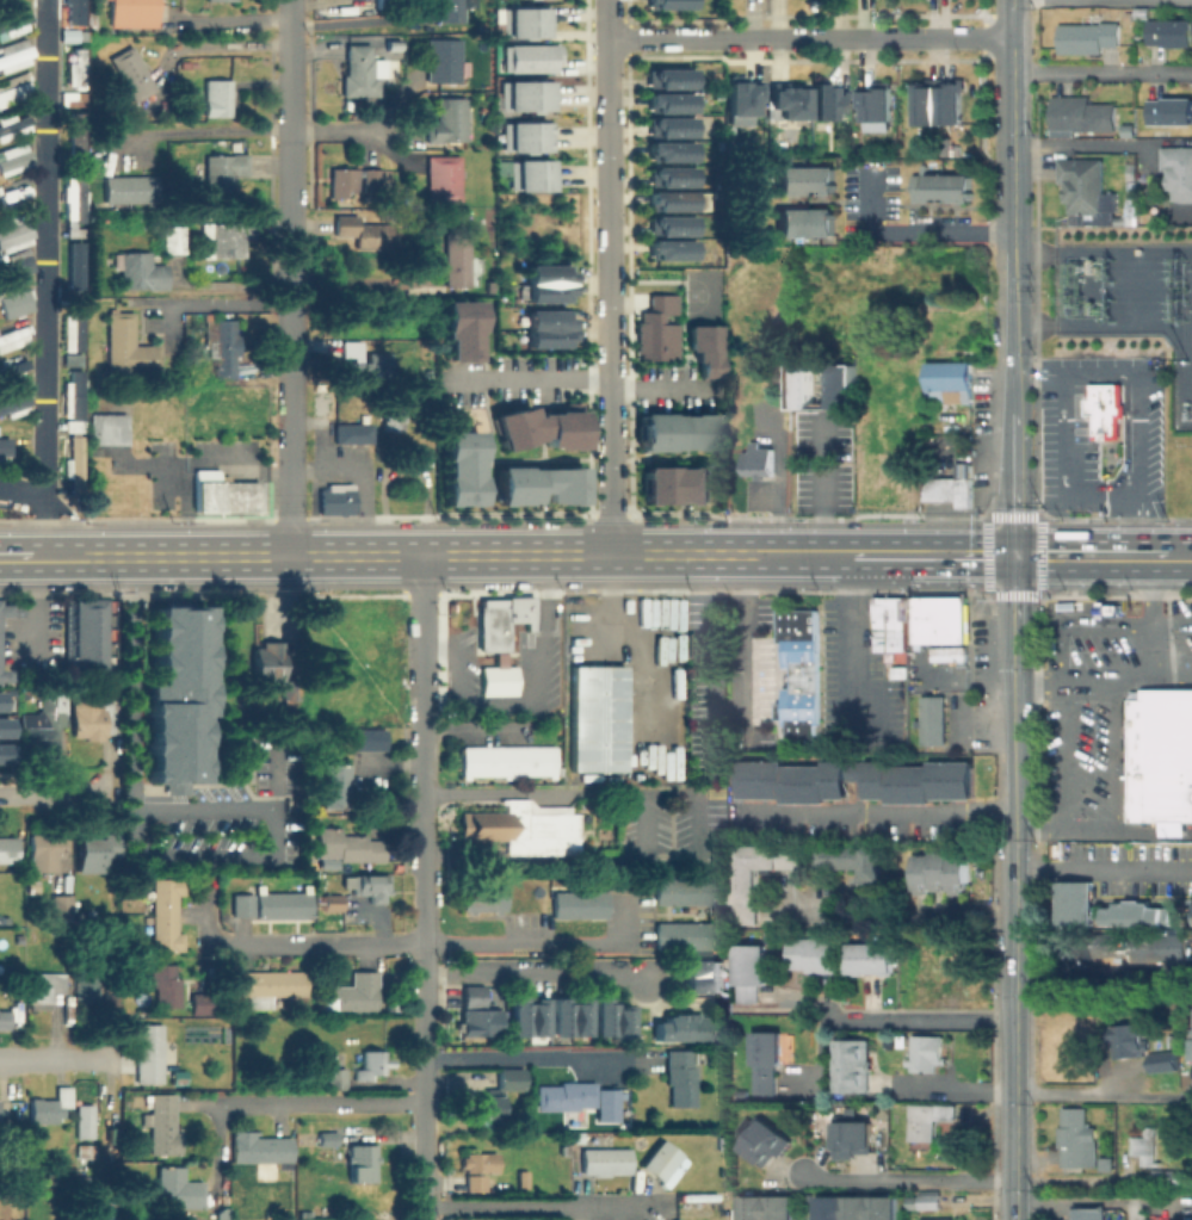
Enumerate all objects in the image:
building: (388, 2)
building: (666, 4)
building: (78, 11)
building: (134, 12)
building: (451, 12)
road: (288, 13)
building: (14, 18)
building: (525, 21)
road: (353, 23)
building: (1172, 32)
building: (70, 33)
building: (1089, 38)
road: (810, 39)
building: (16, 54)
building: (527, 57)
building: (444, 61)
building: (80, 66)
road: (1013, 68)
building: (362, 72)
road: (1103, 72)
building: (132, 74)
building: (666, 78)
building: (12, 87)
building: (524, 94)
building: (745, 94)
building: (790, 95)
building: (74, 98)
building: (218, 98)
building: (829, 98)
building: (878, 98)
building: (940, 99)
building: (667, 101)
building: (1172, 110)
building: (1085, 116)
building: (449, 122)
building: (14, 124)
building: (667, 126)
road: (328, 130)
building: (75, 131)
road: (206, 131)
building: (524, 136)
road: (1082, 144)
building: (668, 150)
road: (288, 156)
building: (16, 160)
building: (529, 166)
building: (1179, 173)
building: (224, 174)
building: (667, 175)
building: (445, 177)
building: (344, 180)
building: (803, 180)
building: (529, 181)
building: (372, 182)
road: (1013, 185)
building: (938, 187)
building: (1087, 187)
building: (130, 188)
building: (76, 196)
building: (668, 199)
building: (803, 222)
building: (668, 224)
building: (362, 230)
building: (75, 231)
building: (13, 233)
road: (910, 233)
building: (175, 236)
building: (231, 237)
road: (44, 247)
building: (668, 248)
building: (457, 260)
building: (80, 264)
building: (14, 266)
building: (141, 272)
building: (545, 273)
road: (611, 278)
road: (356, 280)
building: (545, 292)
power substation: (1129, 299)
building: (13, 302)
road: (216, 303)
building: (546, 318)
building: (79, 327)
building: (458, 328)
building: (13, 330)
building: (659, 330)
building: (70, 332)
building: (546, 336)
building: (223, 345)
building: (129, 348)
building: (705, 348)
building: (73, 360)
building: (362, 360)
building: (16, 365)
road: (1039, 374)
road: (581, 379)
building: (951, 383)
building: (823, 385)
building: (78, 391)
road: (1144, 394)
road: (1013, 395)
building: (13, 402)
building: (1107, 409)
building: (393, 416)
road: (289, 421)
building: (73, 425)
building: (536, 427)
building: (104, 428)
building: (678, 432)
building: (353, 433)
building: (5, 445)
building: (762, 464)
building: (458, 467)
road: (1066, 473)
building: (536, 484)
building: (951, 485)
road: (21, 487)
building: (680, 487)
road: (827, 488)
building: (220, 493)
building: (338, 498)
road: (1148, 525)
road: (42, 526)
road: (438, 556)
road: (819, 556)
road: (883, 556)
road: (962, 556)
traffic signals: (1014, 556)
road: (1094, 557)
road: (1184, 557)
road: (14, 558)
road: (62, 558)
road: (271, 595)
road: (30, 603)
building: (1106, 607)
building: (0, 608)
building: (943, 619)
road: (1157, 619)
building: (500, 621)
building: (890, 623)
road: (1174, 624)
building: (84, 634)
road: (856, 637)
road: (742, 638)
road: (422, 639)
building: (699, 644)
building: (946, 652)
building: (267, 661)
building: (1, 675)
building: (801, 675)
building: (500, 679)
road: (1103, 680)
road: (1014, 683)
building: (291, 689)
building: (0, 690)
building: (179, 695)
building: (246, 706)
building: (93, 717)
building: (594, 718)
building: (44, 722)
building: (933, 724)
building: (2, 725)
road: (473, 729)
building: (364, 738)
building: (2, 751)
road: (135, 755)
building: (1161, 756)
building: (508, 760)
building: (329, 770)
building: (857, 781)
building: (329, 786)
building: (179, 789)
road: (48, 791)
road: (539, 794)
road: (421, 798)
building: (329, 800)
road: (1120, 809)
road: (876, 812)
building: (587, 817)
building: (529, 826)
building: (348, 844)
building: (8, 849)
building: (95, 849)
building: (45, 850)
building: (858, 868)
road: (1104, 868)
building: (943, 874)
building: (759, 877)
building: (366, 885)
building: (665, 890)
building: (692, 890)
building: (331, 898)
building: (469, 898)
building: (492, 898)
building: (1076, 903)
building: (239, 904)
building: (280, 904)
building: (561, 904)
building: (591, 904)
building: (62, 909)
building: (1191, 909)
building: (166, 912)
road: (902, 914)
building: (1137, 915)
building: (665, 935)
building: (692, 935)
road: (420, 942)
building: (815, 955)
building: (873, 959)
building: (927, 966)
road: (531, 970)
building: (752, 973)
building: (704, 978)
road: (1058, 979)
building: (166, 984)
building: (87, 986)
building: (270, 986)
building: (44, 989)
building: (356, 992)
building: (111, 1002)
building: (202, 1002)
building: (480, 1015)
road: (1015, 1015)
building: (530, 1017)
building: (572, 1017)
road: (919, 1020)
building: (4, 1021)
building: (612, 1021)
building: (681, 1029)
building: (1126, 1040)
road: (421, 1047)
building: (1191, 1051)
building: (150, 1054)
road: (535, 1055)
building: (925, 1055)
road: (61, 1058)
building: (1160, 1060)
building: (767, 1061)
building: (371, 1063)
building: (852, 1066)
building: (336, 1076)
building: (681, 1079)
road: (944, 1088)
road: (1104, 1092)
building: (495, 1094)
building: (583, 1100)
road: (307, 1102)
building: (51, 1106)
building: (85, 1119)
building: (928, 1120)
building: (165, 1125)
building: (328, 1137)
building: (576, 1137)
building: (853, 1139)
building: (1077, 1139)
building: (723, 1142)
building: (766, 1145)
building: (261, 1147)
building: (327, 1153)
building: (1153, 1158)
building: (605, 1159)
building: (362, 1160)
building: (482, 1163)
building: (663, 1165)
building: (1107, 1165)
road: (908, 1179)
building: (178, 1188)
road: (1104, 1200)
building: (929, 1201)
road: (523, 1206)
building: (861, 1209)
building: (767, 1210)
road: (1055, 1210)
building: (110, 1213)
building: (1088, 1214)
building: (674, 1219)
building: (679, 1219)
building: (943, 1219)

